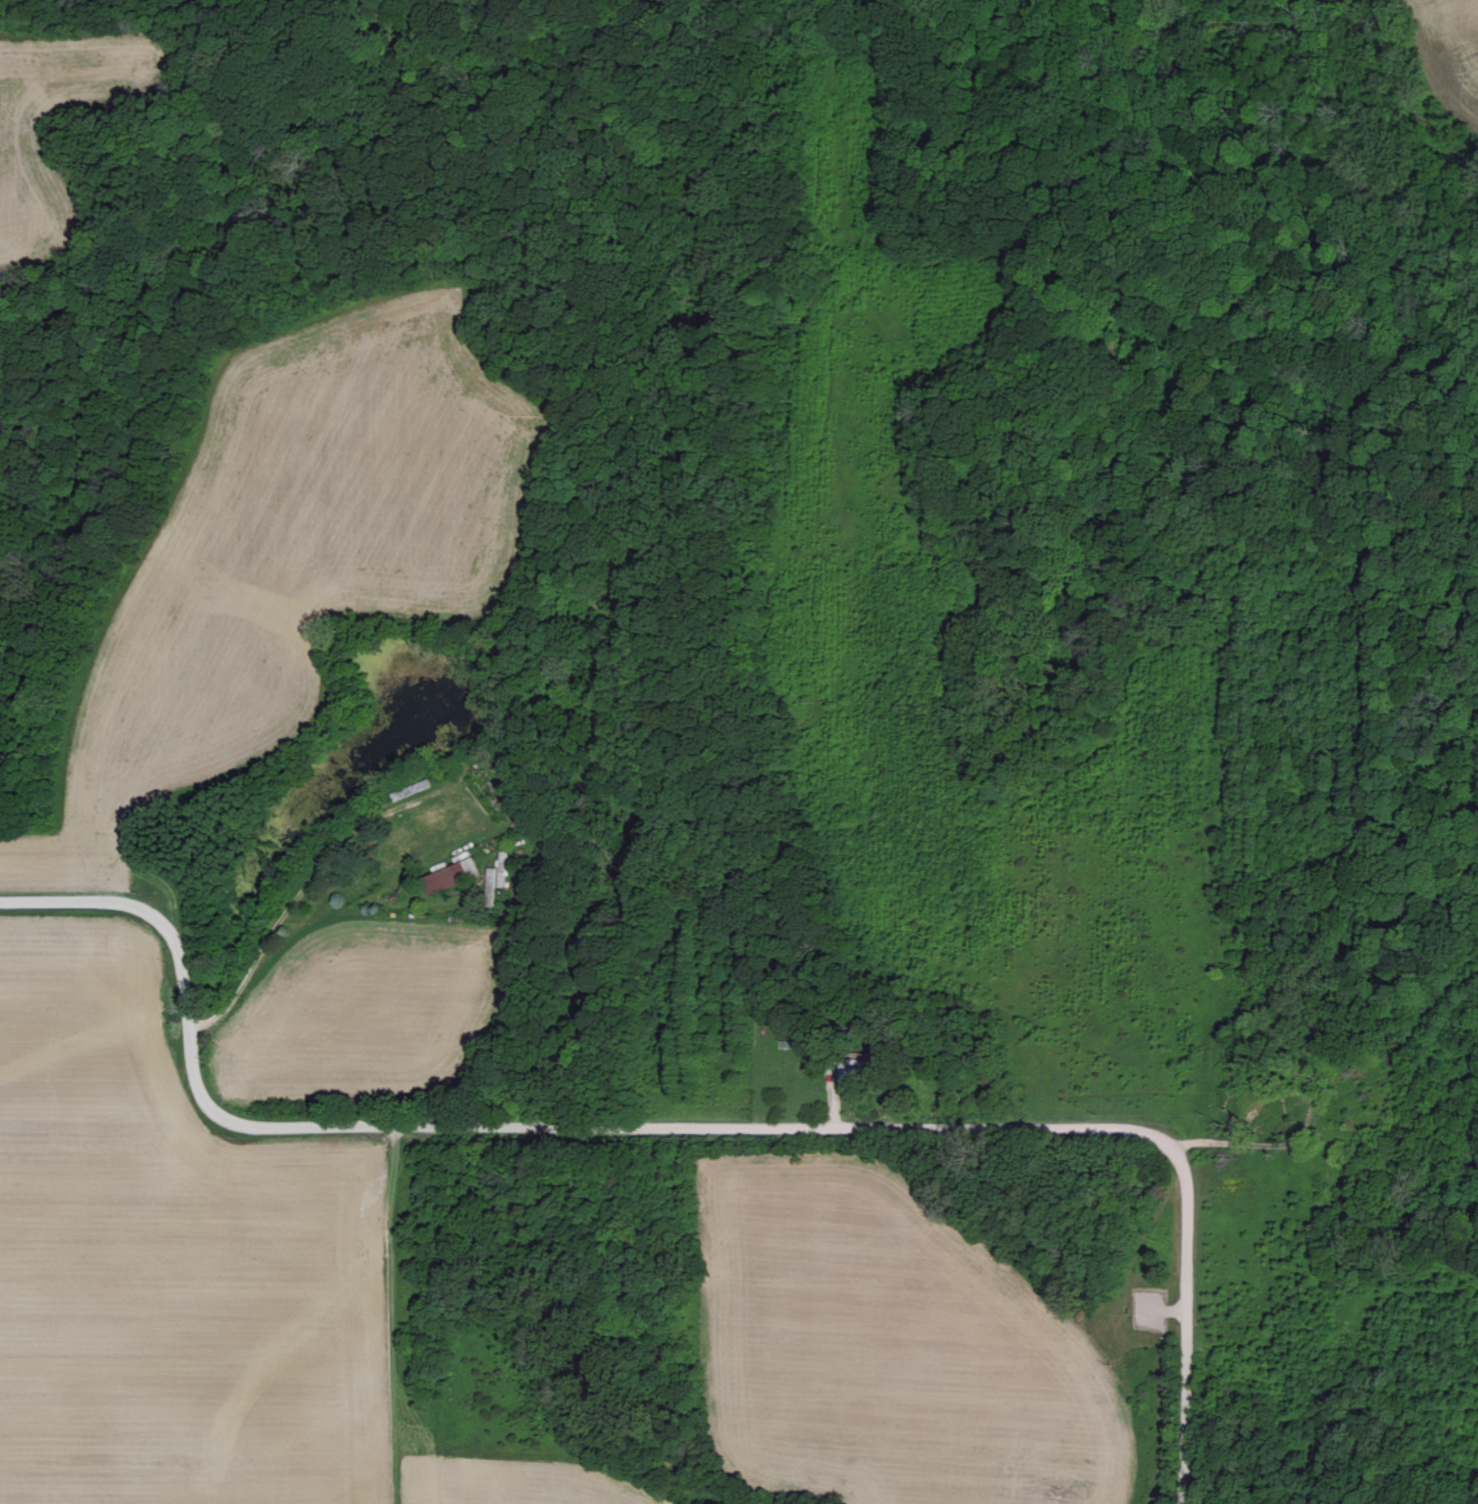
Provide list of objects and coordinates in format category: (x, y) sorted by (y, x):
road: (916, 264)
building: (453, 875)
building: (491, 876)
road: (510, 1128)
road: (1287, 1147)
parking lot: (1150, 1313)
road: (1183, 1323)
road: (1153, 1394)

